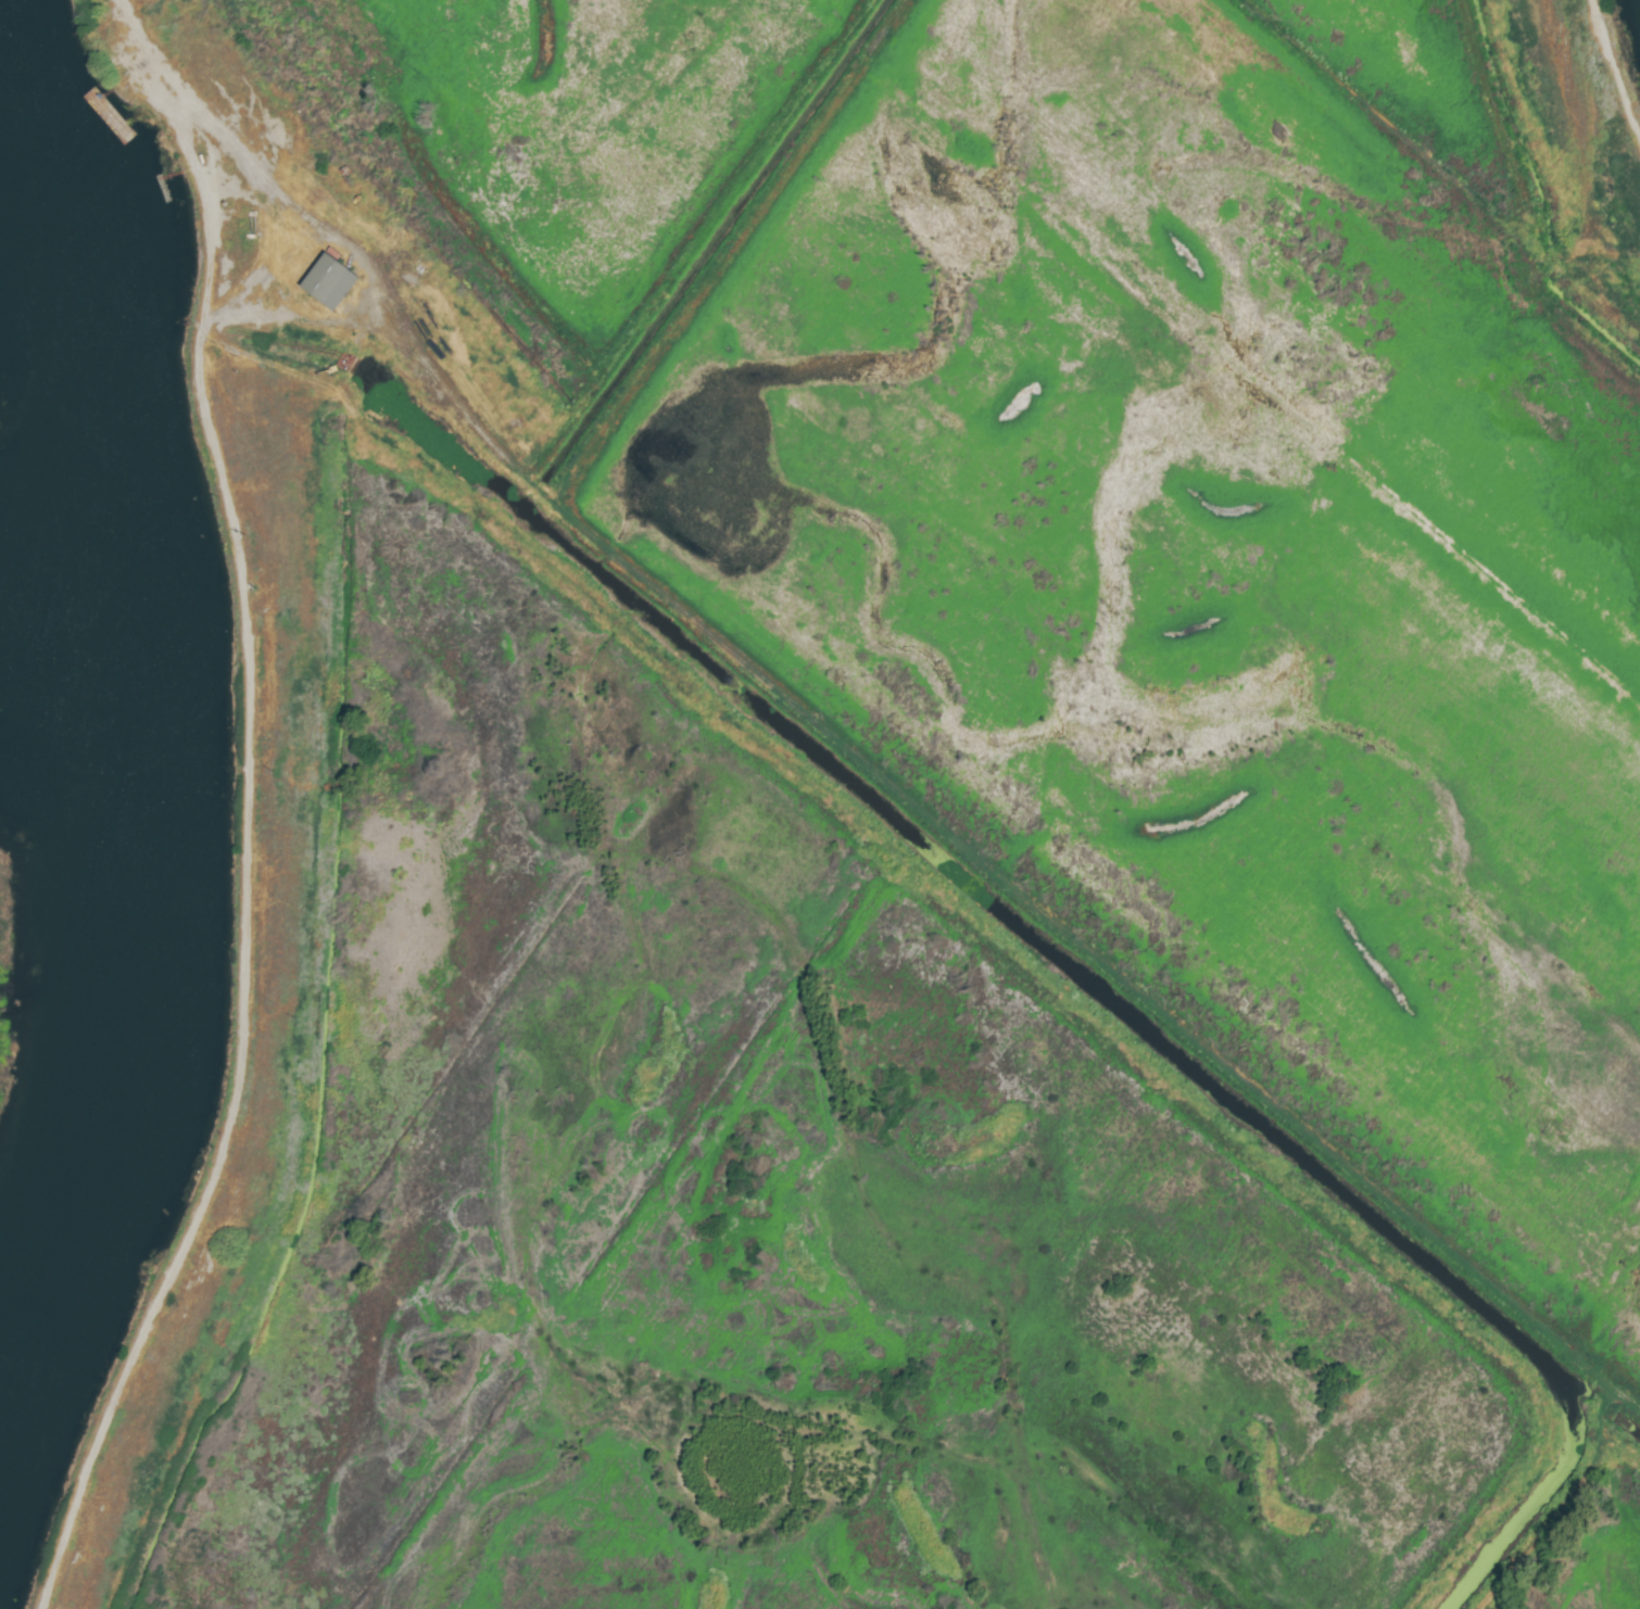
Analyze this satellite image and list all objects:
building: (97, 39)
building: (326, 283)
crop: (912, 807)

